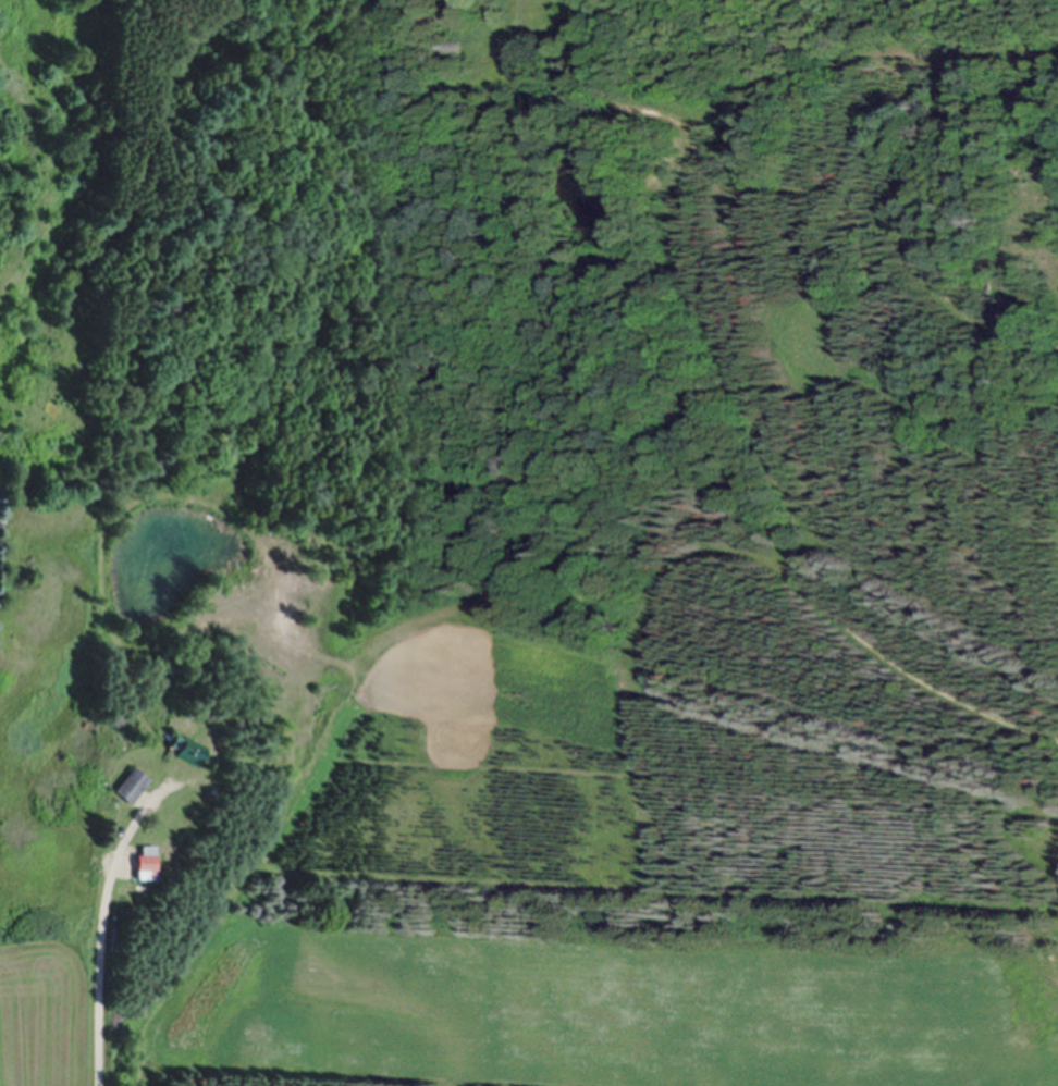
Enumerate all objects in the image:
road: (949, 118)
road: (689, 270)
road: (706, 548)
building: (194, 748)
building: (134, 780)
building: (127, 878)
building: (115, 930)
road: (100, 943)

